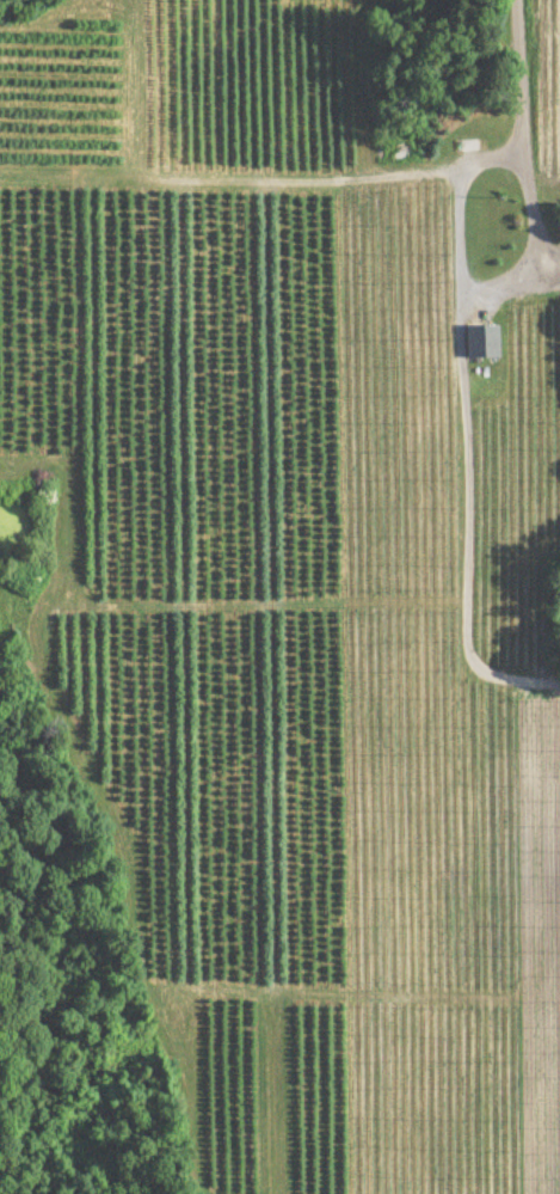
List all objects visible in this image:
road: (525, 135)
building: (482, 343)

